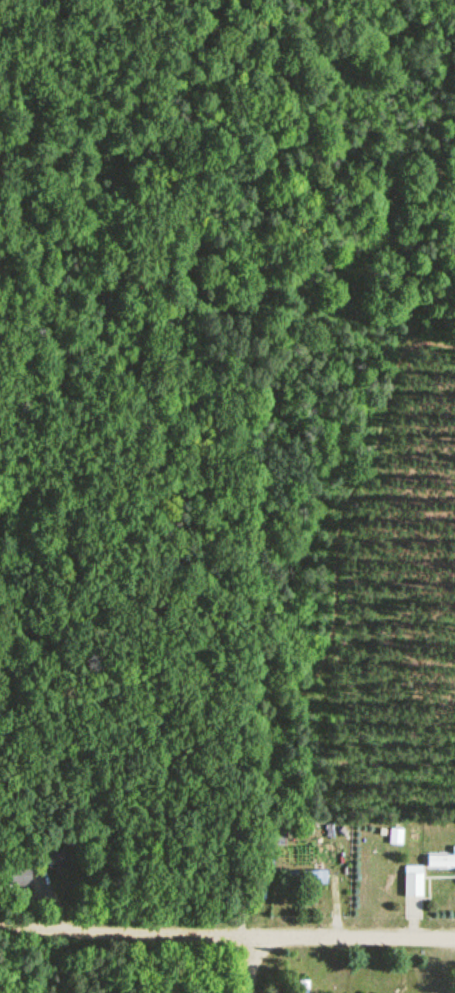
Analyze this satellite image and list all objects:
building: (281, 837)
building: (396, 837)
building: (60, 859)
building: (441, 863)
building: (306, 877)
building: (414, 883)
road: (227, 939)
road: (256, 966)
building: (303, 987)

